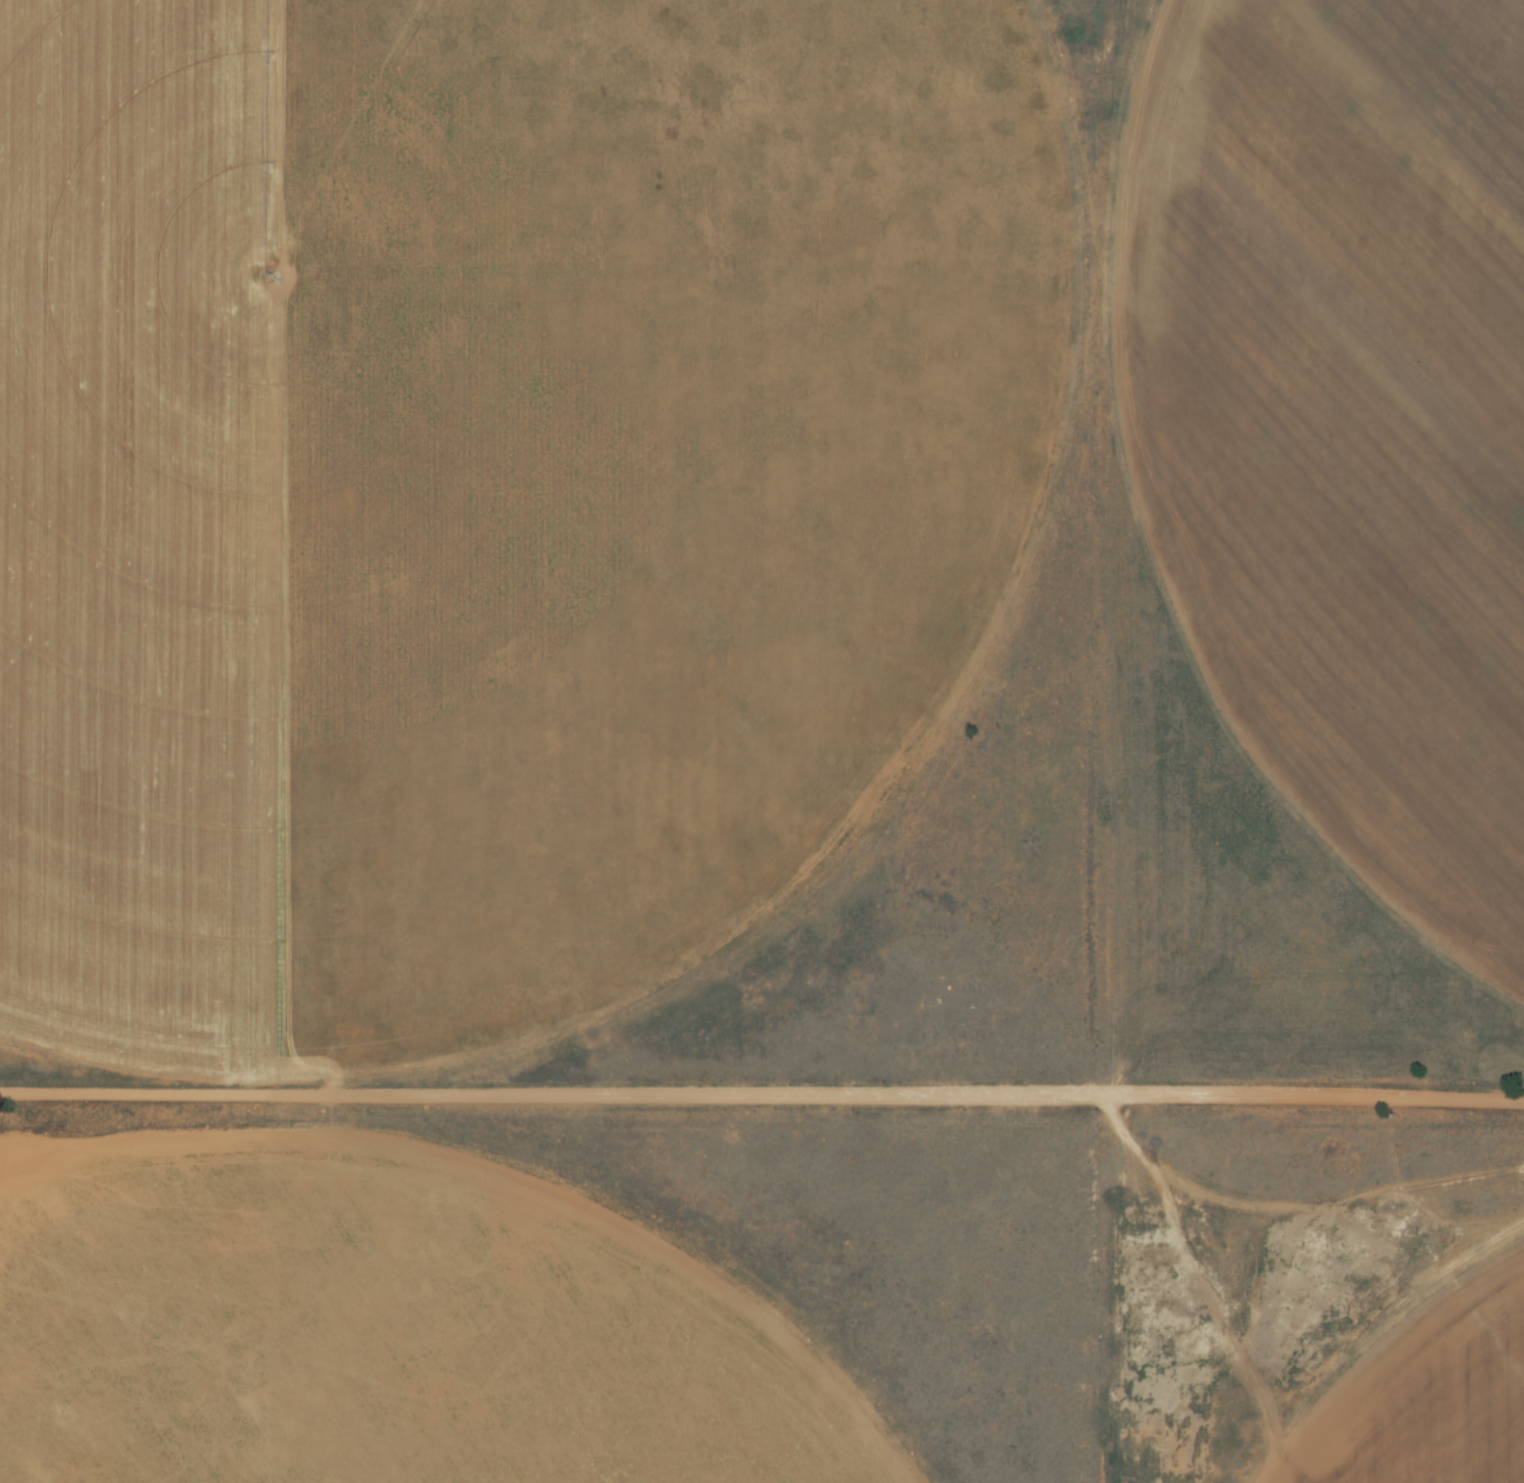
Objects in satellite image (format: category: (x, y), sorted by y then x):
road: (762, 1098)

